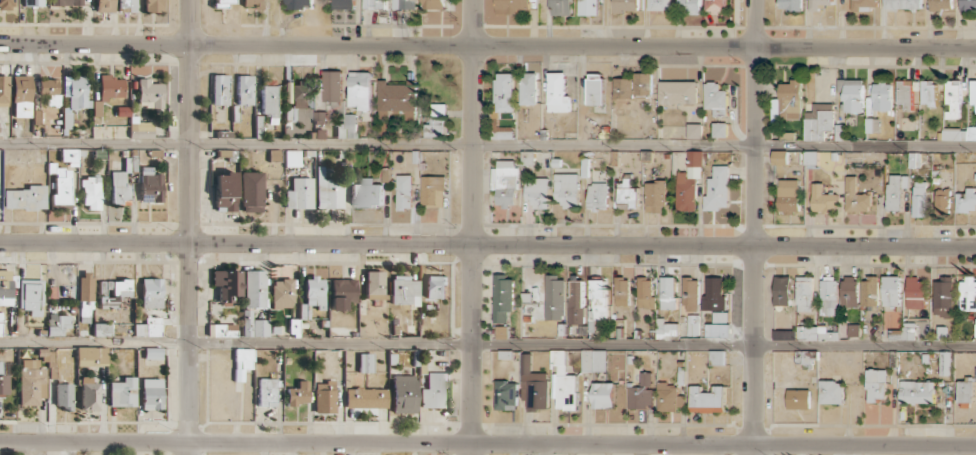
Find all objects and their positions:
building: (66, 2)
building: (32, 3)
building: (222, 3)
building: (252, 3)
building: (6, 4)
building: (299, 4)
building: (343, 4)
building: (374, 4)
building: (404, 4)
building: (433, 4)
building: (790, 4)
building: (818, 4)
building: (903, 4)
building: (968, 4)
building: (153, 5)
building: (625, 5)
building: (864, 5)
building: (941, 5)
building: (104, 6)
building: (127, 6)
building: (512, 6)
building: (689, 6)
building: (716, 6)
building: (562, 7)
building: (589, 7)
road: (487, 45)
building: (643, 84)
building: (333, 85)
building: (111, 87)
building: (623, 88)
building: (220, 89)
building: (529, 89)
building: (595, 89)
building: (3, 90)
building: (245, 90)
building: (360, 90)
building: (505, 91)
building: (678, 92)
building: (928, 92)
building: (973, 92)
building: (150, 93)
building: (558, 93)
building: (300, 94)
building: (851, 94)
building: (905, 94)
building: (21, 96)
building: (882, 96)
building: (398, 98)
building: (953, 98)
building: (75, 99)
building: (715, 99)
building: (788, 101)
building: (269, 102)
building: (320, 117)
building: (435, 121)
building: (818, 121)
building: (347, 127)
building: (719, 129)
building: (694, 131)
building: (971, 132)
building: (953, 134)
road: (488, 145)
building: (69, 155)
building: (779, 157)
building: (292, 158)
building: (810, 159)
building: (505, 182)
building: (689, 182)
building: (119, 187)
building: (61, 188)
building: (151, 188)
building: (717, 188)
building: (433, 190)
building: (567, 190)
building: (91, 192)
building: (225, 192)
building: (329, 192)
building: (404, 192)
building: (537, 192)
building: (897, 192)
building: (300, 193)
building: (367, 193)
building: (627, 195)
building: (788, 195)
building: (598, 196)
building: (655, 196)
building: (856, 197)
building: (26, 198)
building: (823, 199)
building: (919, 199)
building: (966, 200)
building: (941, 202)
road: (190, 227)
road: (472, 227)
road: (753, 227)
road: (487, 244)
building: (227, 284)
building: (374, 284)
building: (5, 287)
building: (436, 287)
building: (254, 289)
building: (404, 290)
building: (782, 290)
building: (869, 290)
building: (891, 290)
building: (622, 291)
building: (849, 291)
building: (315, 292)
building: (645, 292)
building: (113, 293)
building: (151, 293)
building: (342, 293)
building: (667, 293)
building: (915, 293)
building: (30, 294)
building: (282, 294)
building: (691, 294)
building: (714, 294)
building: (804, 294)
building: (968, 294)
building: (942, 295)
building: (828, 296)
building: (503, 298)
building: (555, 298)
building: (599, 301)
building: (576, 302)
building: (720, 317)
building: (57, 324)
building: (254, 325)
building: (149, 327)
building: (101, 329)
building: (222, 330)
building: (717, 330)
building: (853, 330)
building: (502, 332)
building: (903, 332)
building: (816, 333)
road: (487, 346)
building: (91, 353)
building: (153, 353)
building: (717, 357)
building: (593, 360)
building: (242, 362)
building: (365, 363)
building: (945, 363)
building: (975, 378)
building: (4, 381)
building: (31, 382)
building: (564, 382)
building: (876, 384)
building: (534, 385)
building: (434, 391)
building: (965, 391)
building: (122, 392)
building: (266, 392)
building: (831, 392)
building: (917, 392)
building: (151, 393)
building: (403, 393)
building: (641, 393)
building: (89, 394)
building: (298, 394)
building: (506, 395)
building: (602, 395)
building: (64, 396)
building: (324, 397)
building: (669, 397)
building: (366, 398)
building: (707, 399)
building: (798, 399)
road: (488, 443)

